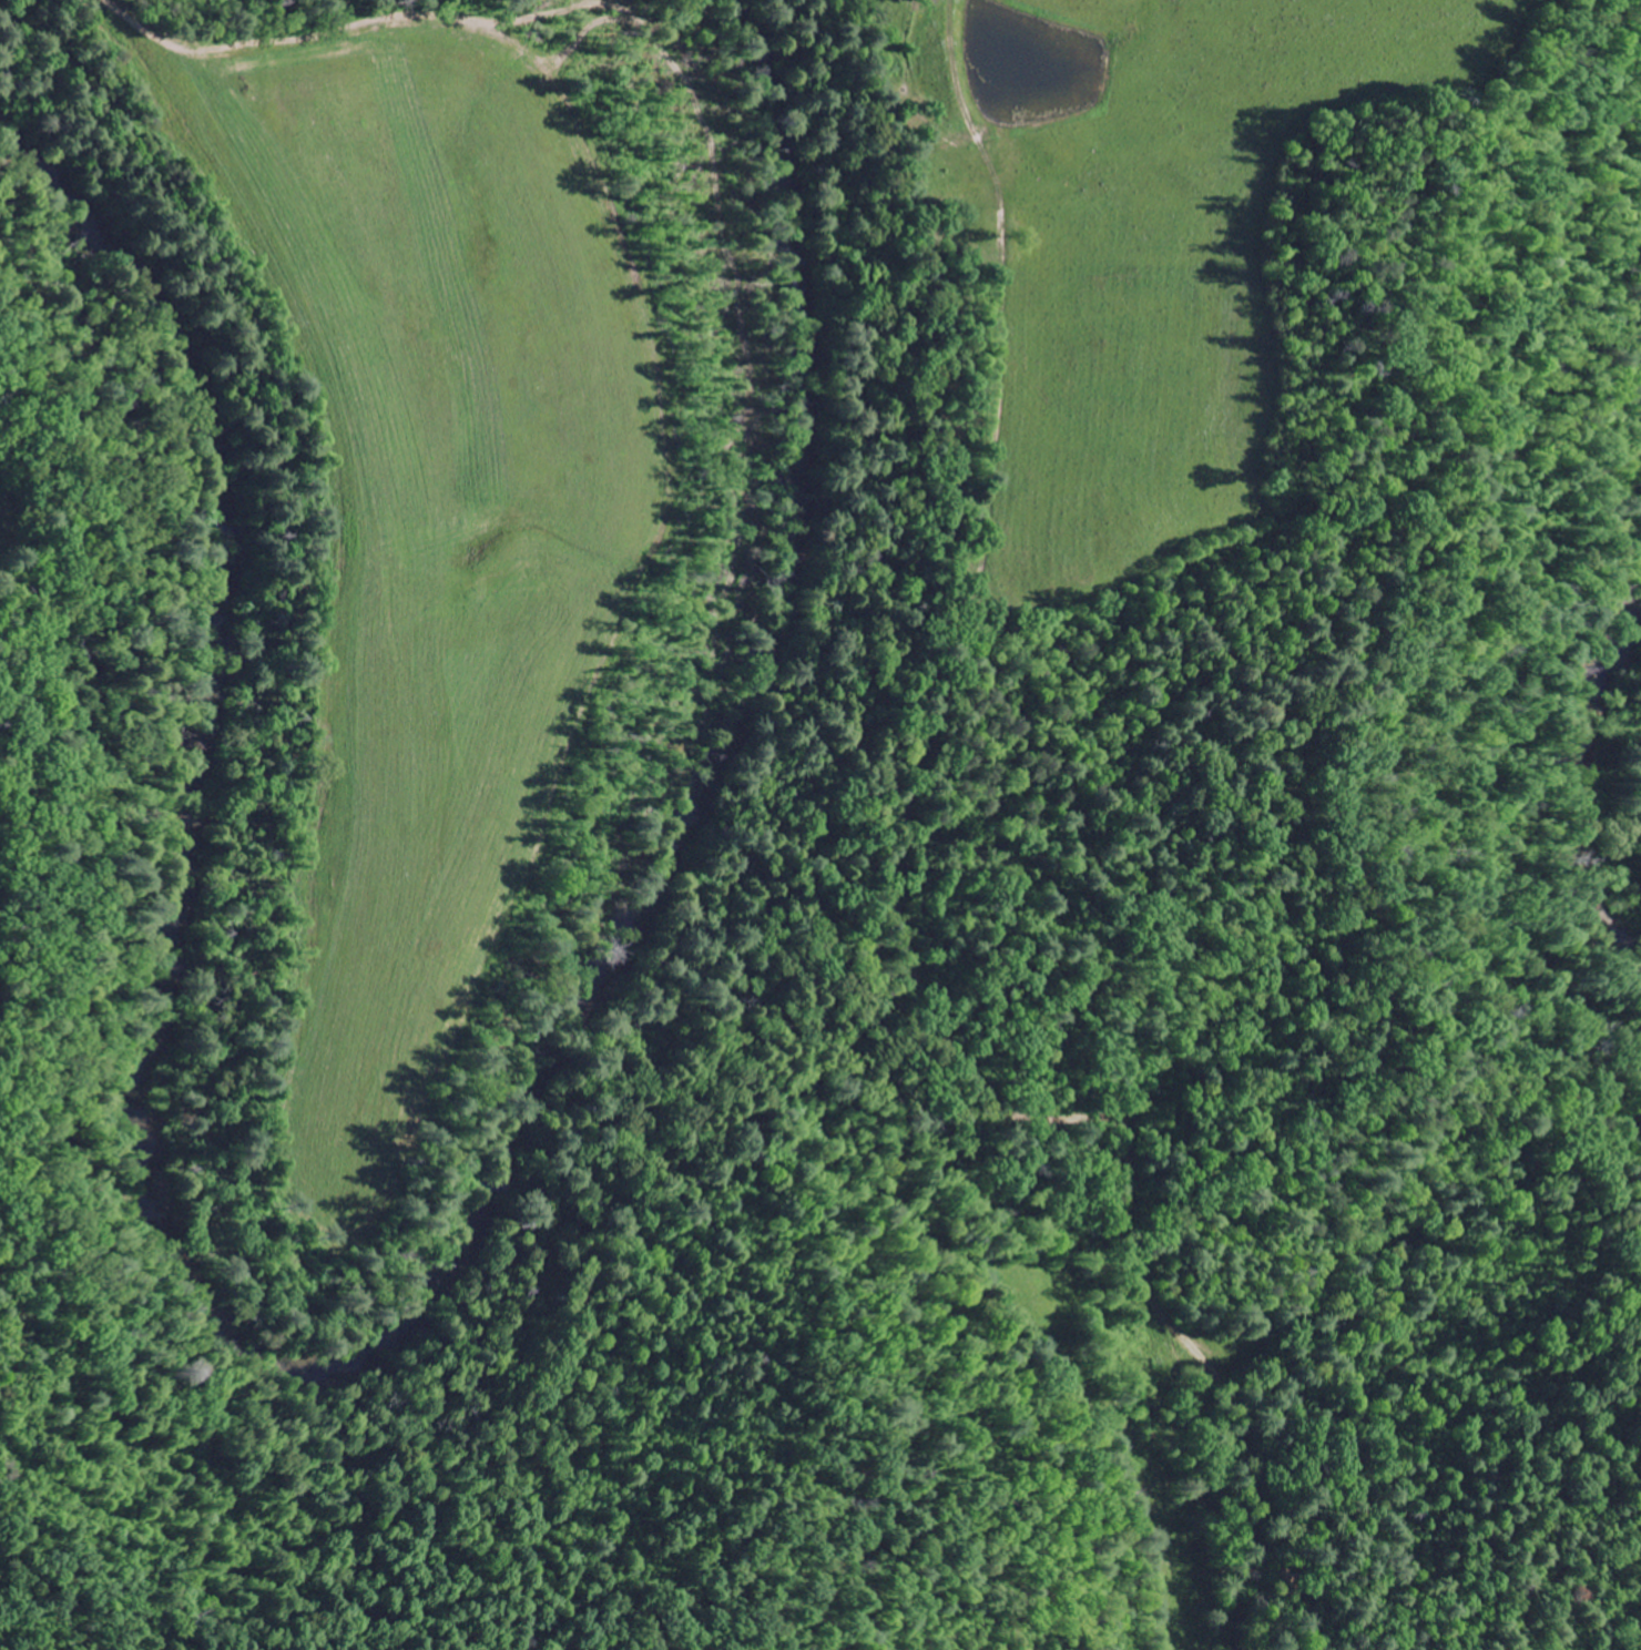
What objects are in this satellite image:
river: (1569, 784)
river: (377, 1361)

